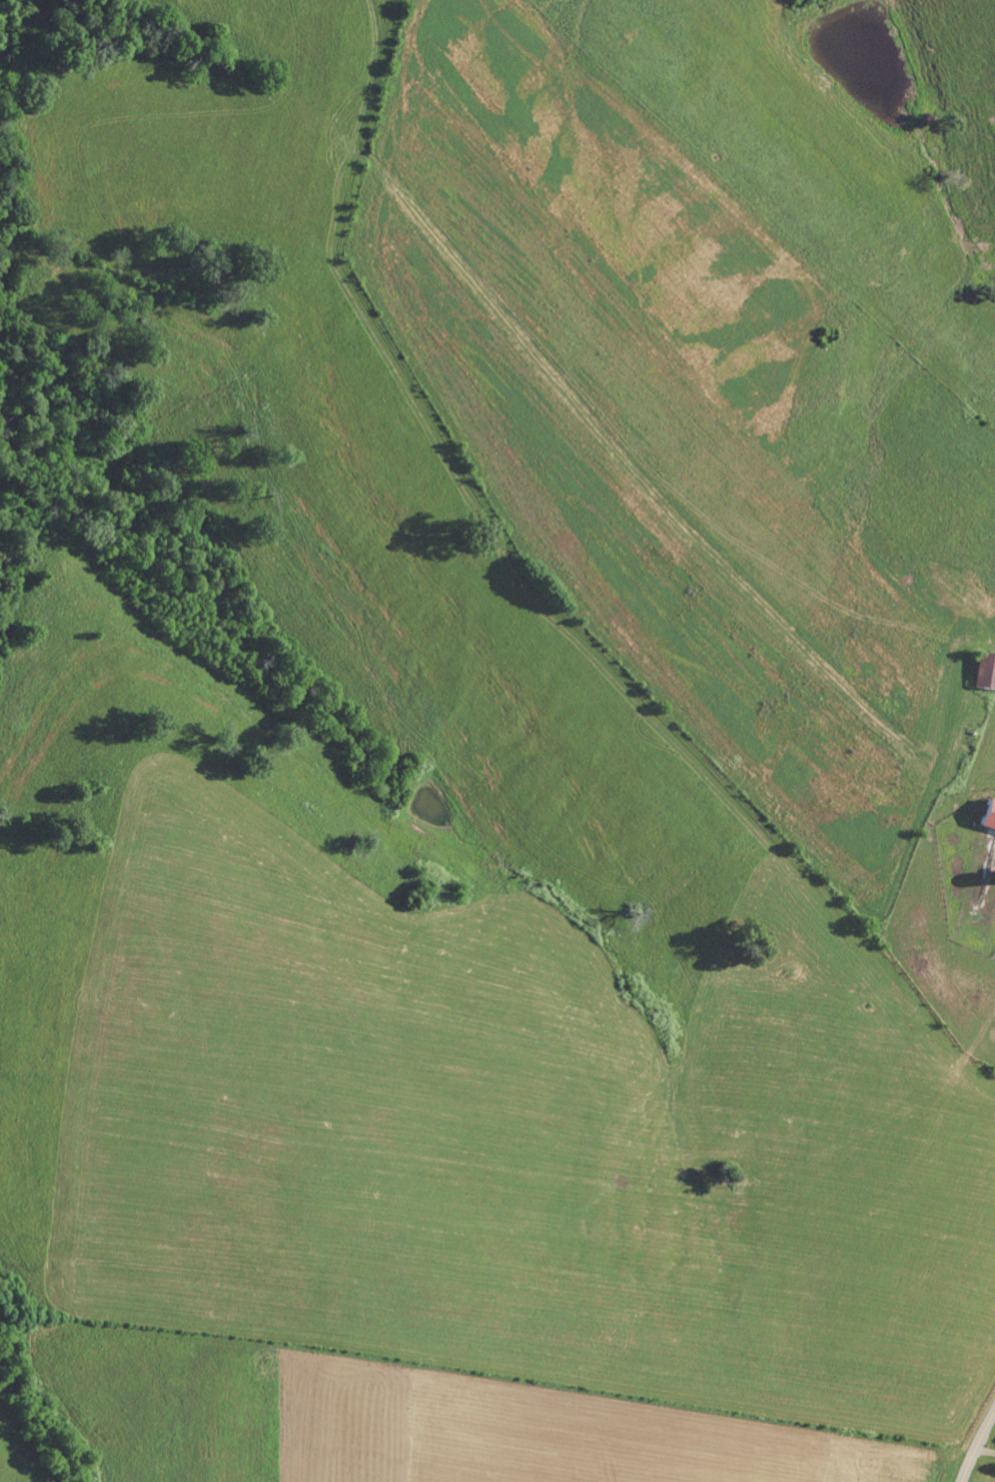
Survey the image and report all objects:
building: (988, 670)
building: (990, 815)
road: (977, 1446)
road: (985, 1450)

